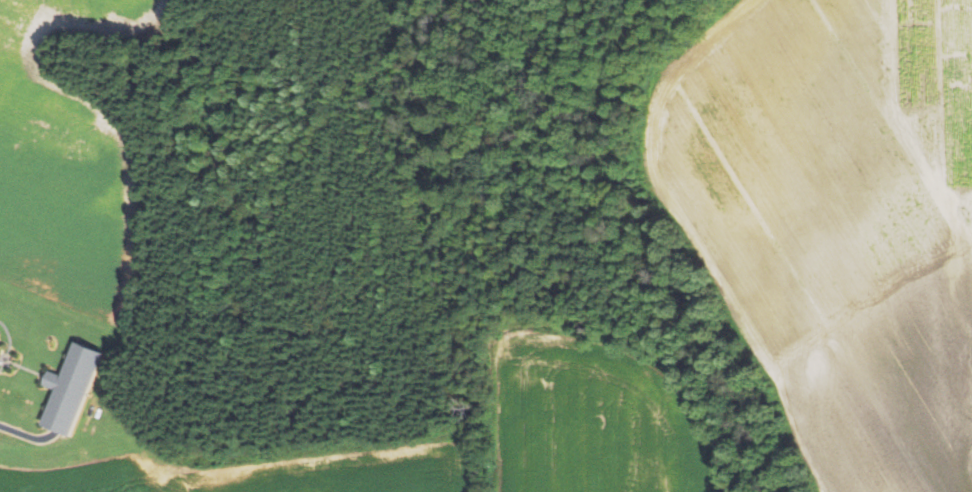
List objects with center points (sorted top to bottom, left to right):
crop: (67, 166)
crop: (835, 219)
building: (1, 346)
building: (52, 379)
crop: (595, 417)
road: (61, 421)
crop: (267, 468)

